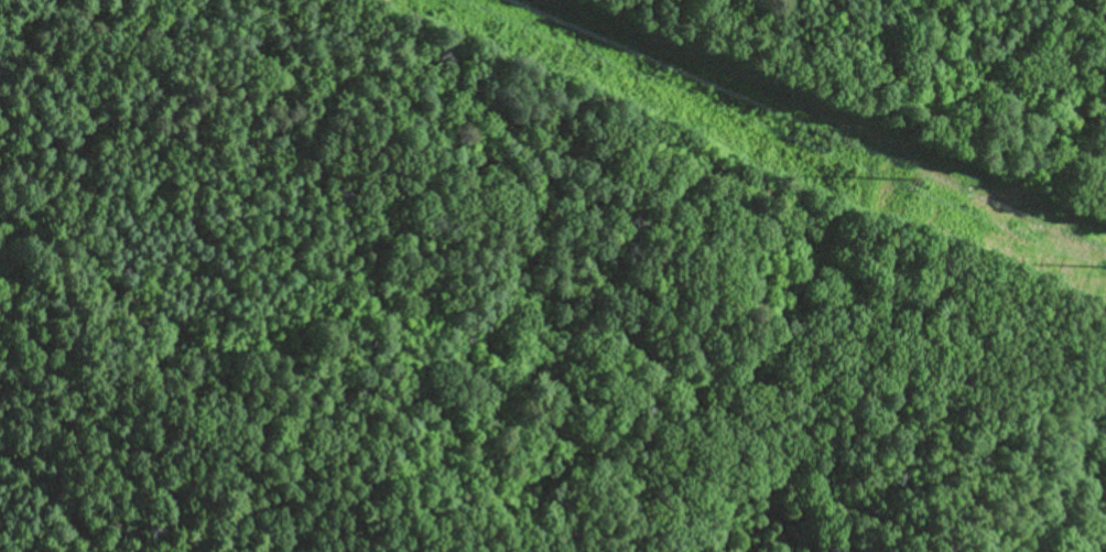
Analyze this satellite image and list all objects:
power tower: (904, 177)

